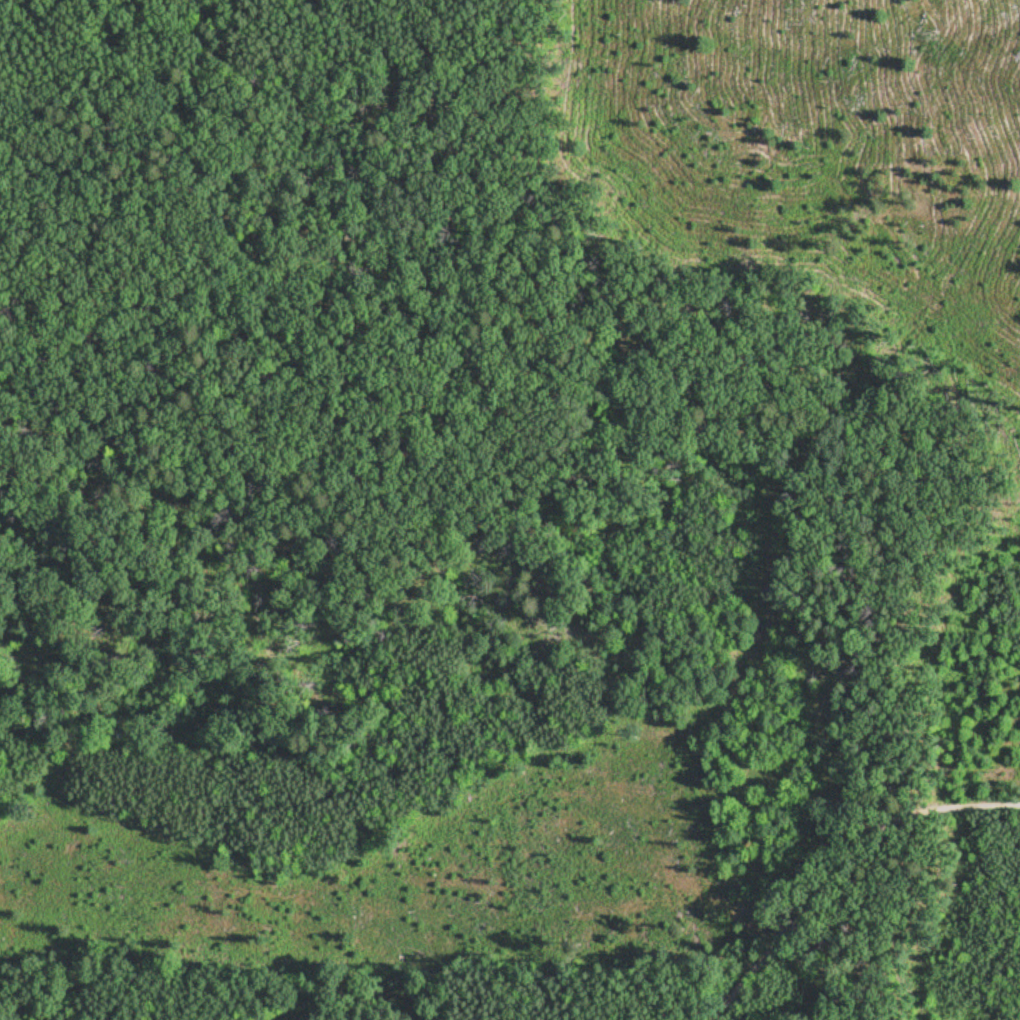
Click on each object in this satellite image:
road: (833, 854)

